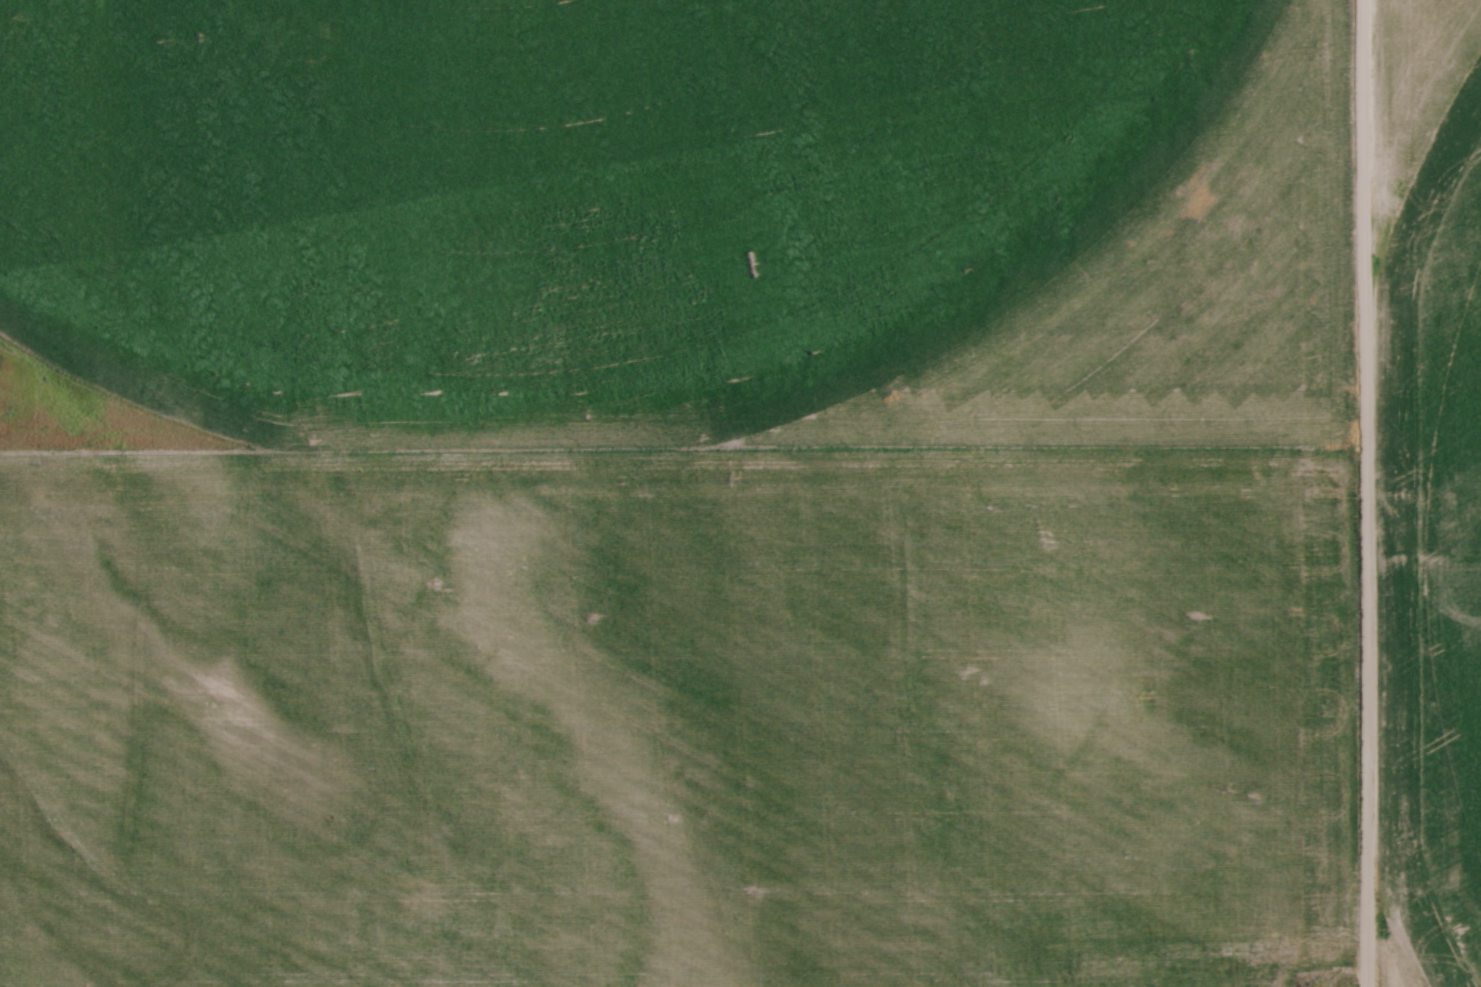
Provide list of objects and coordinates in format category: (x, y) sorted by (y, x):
road: (1369, 493)

